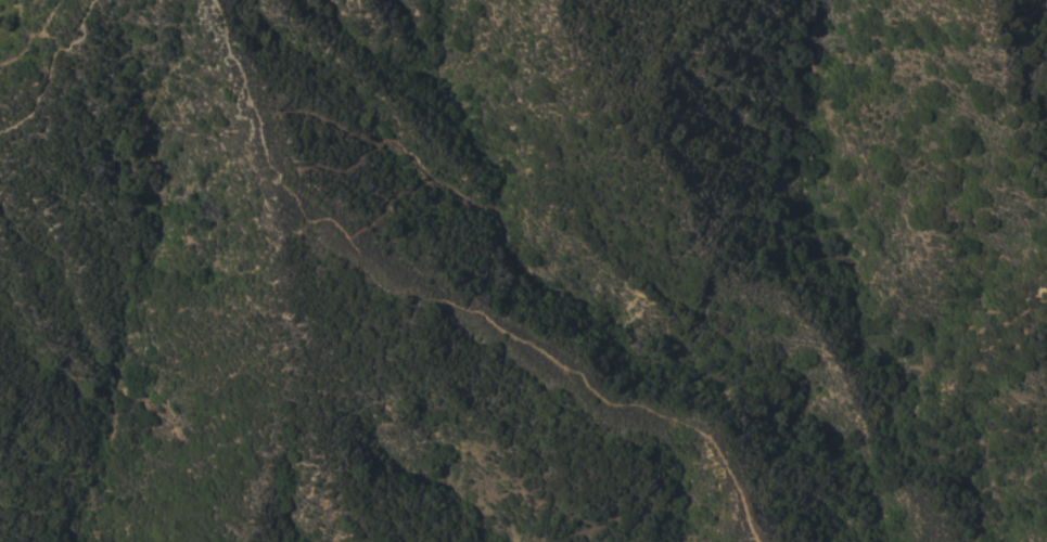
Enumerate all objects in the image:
road: (56, 65)
road: (446, 299)

